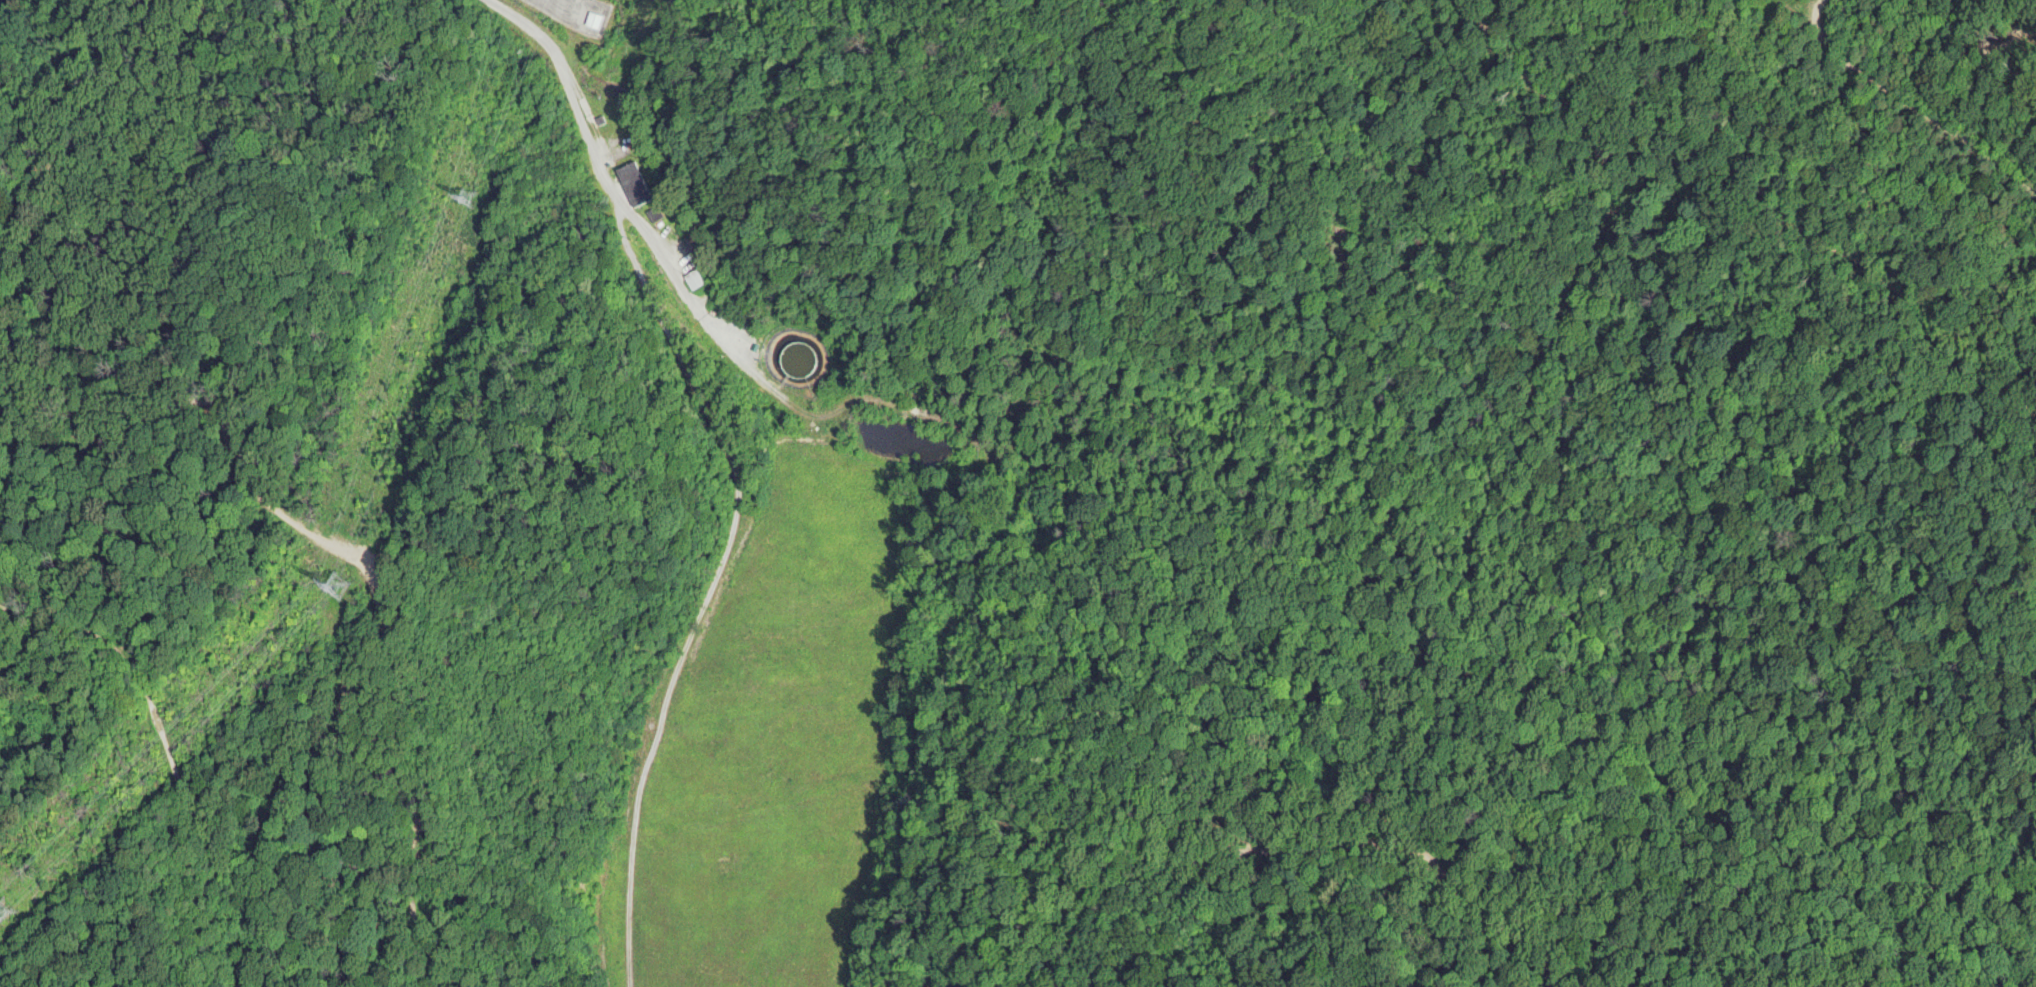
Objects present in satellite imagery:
building: (592, 23)
road: (565, 70)
building: (633, 186)
building: (797, 362)

